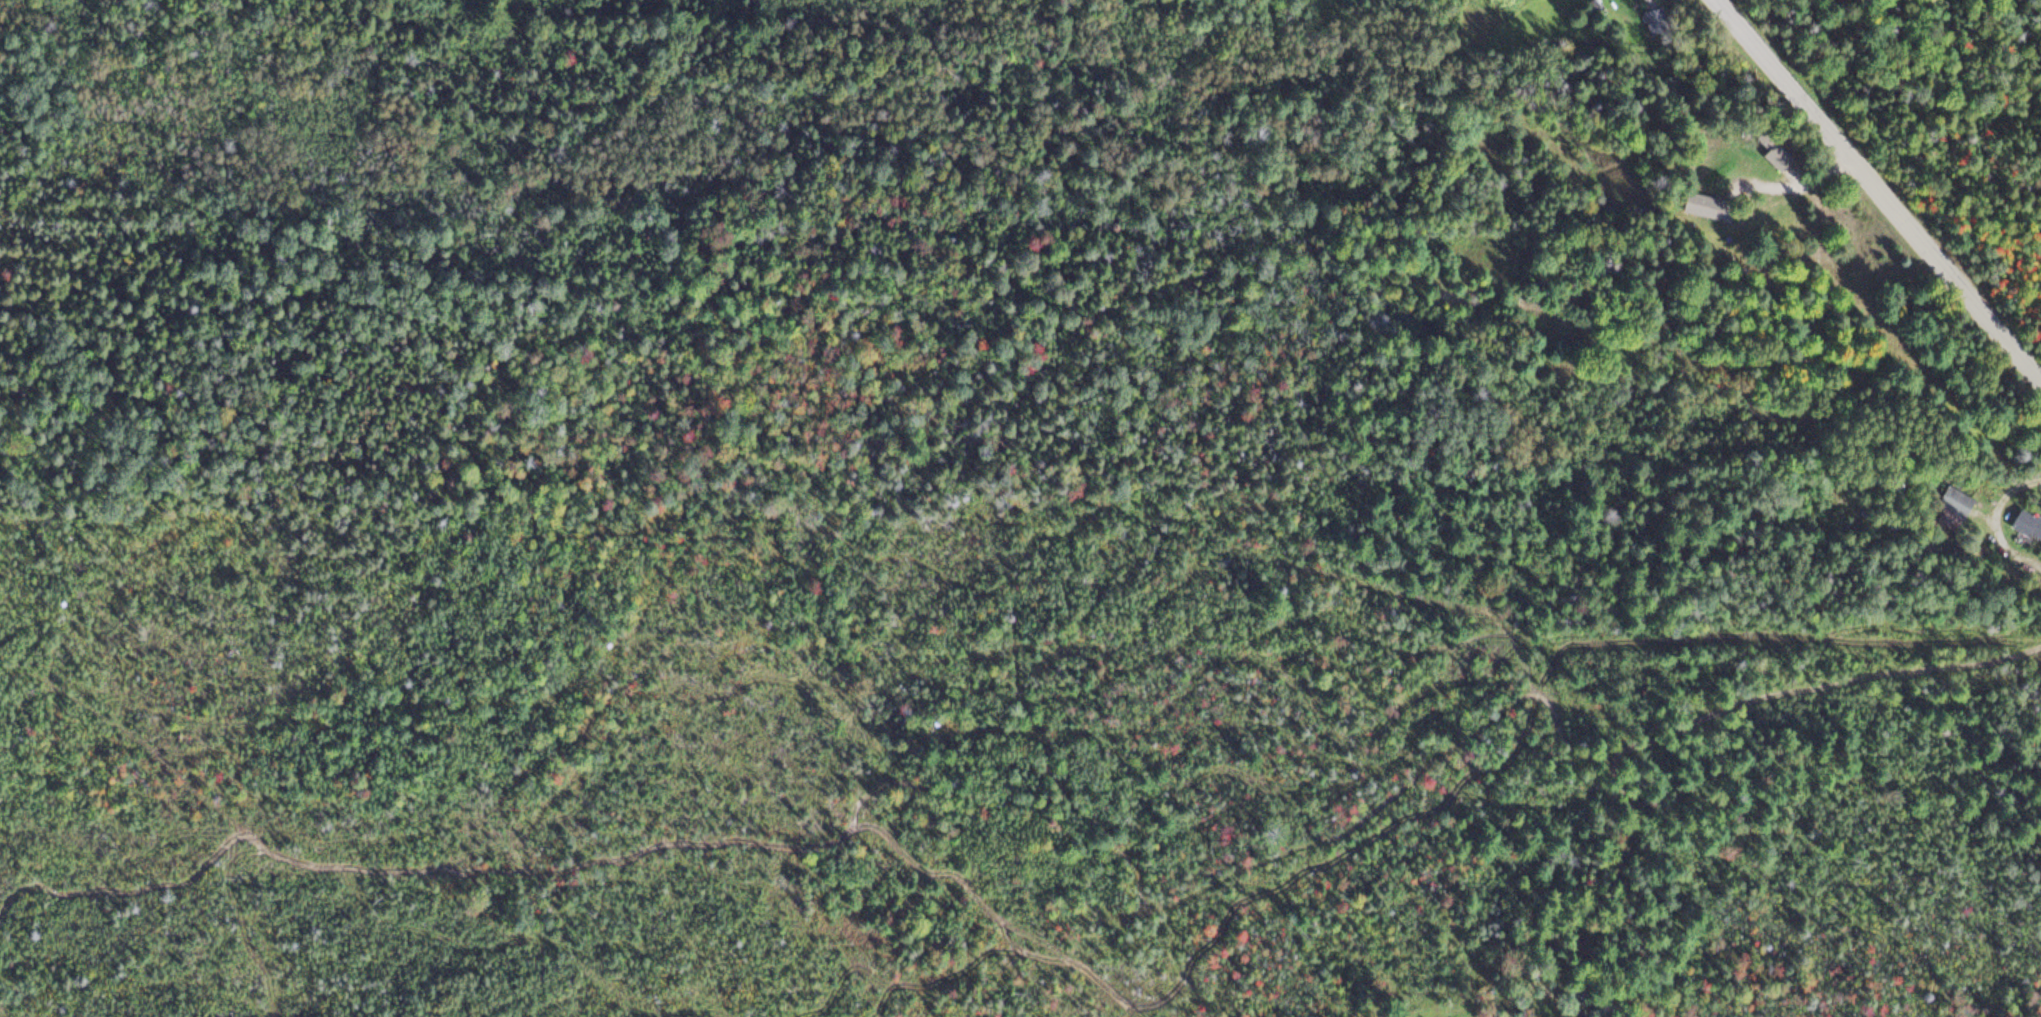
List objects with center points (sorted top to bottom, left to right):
road: (1878, 190)
building: (1947, 500)
building: (2023, 525)

